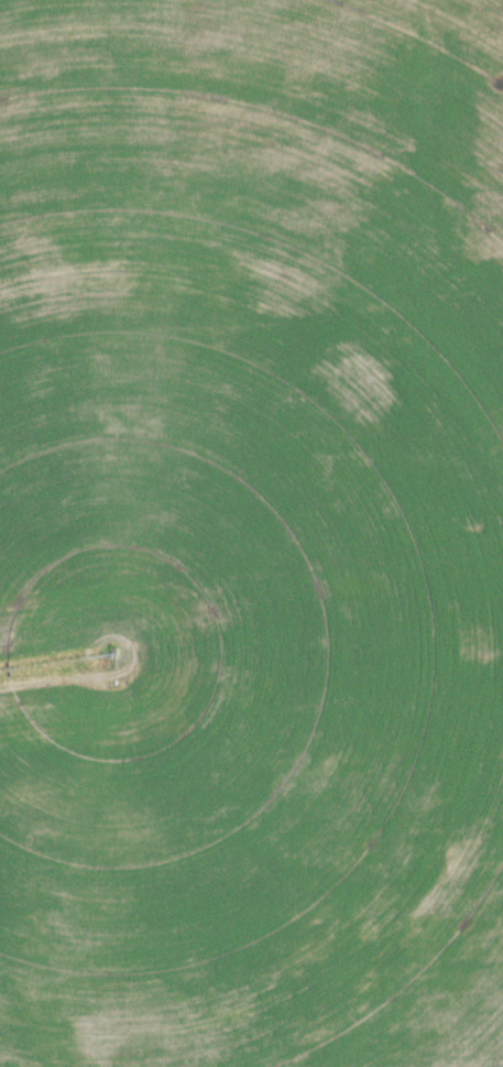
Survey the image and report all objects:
wastewater plant: (251, 533)

